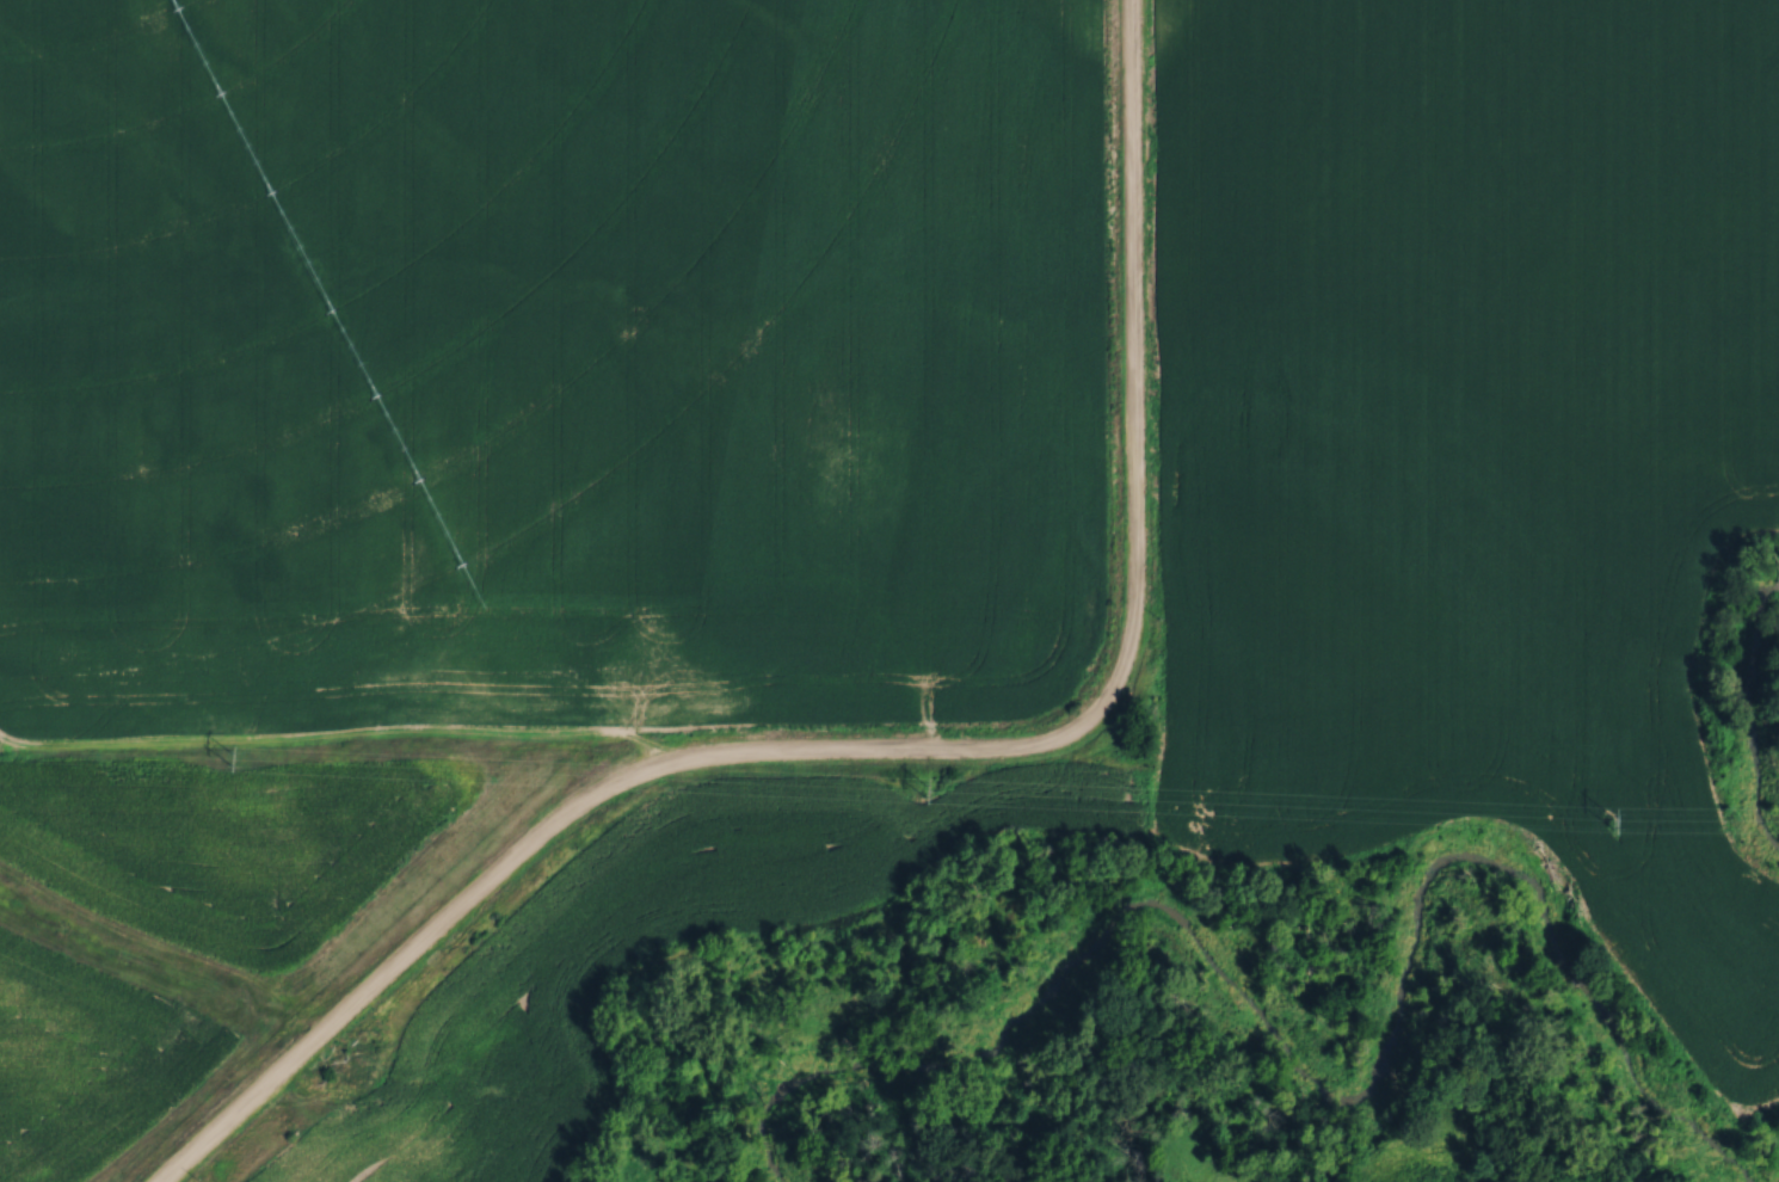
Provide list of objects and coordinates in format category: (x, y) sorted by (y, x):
road: (917, 752)
power tower: (229, 757)
power tower: (924, 789)
power tower: (1611, 820)

